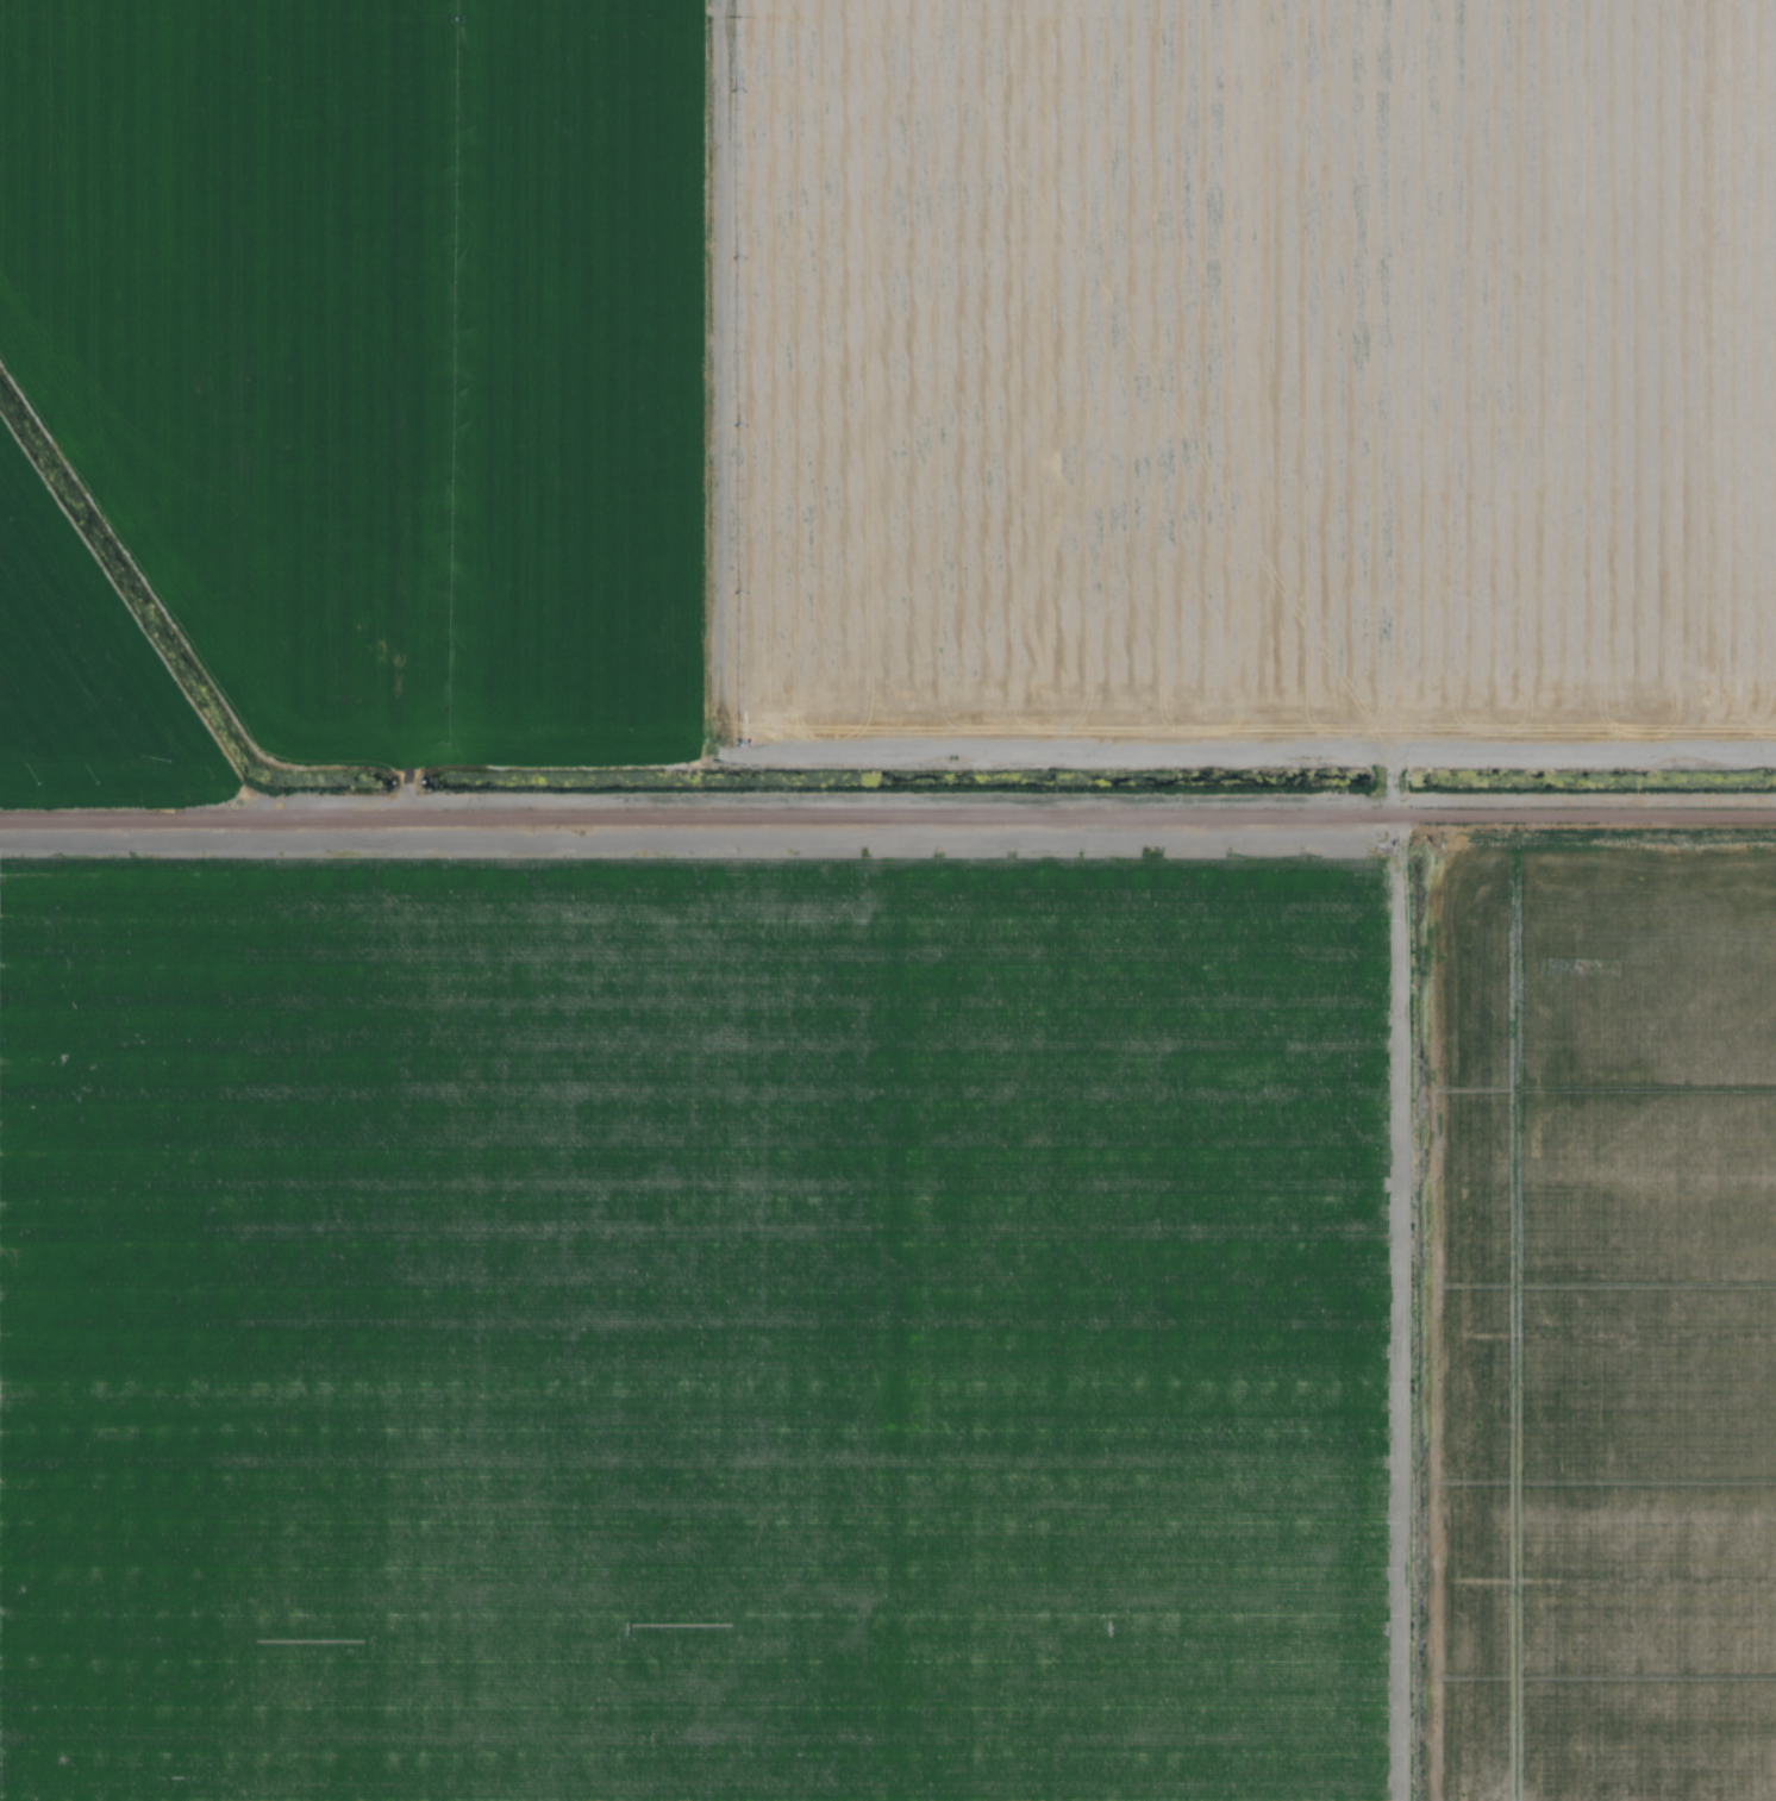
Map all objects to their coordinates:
crop: (374, 349)
crop: (1734, 369)
crop: (1188, 380)
crop: (79, 676)
road: (402, 788)
road: (887, 814)
crop: (877, 1314)
crop: (164, 1317)
crop: (1602, 1324)

